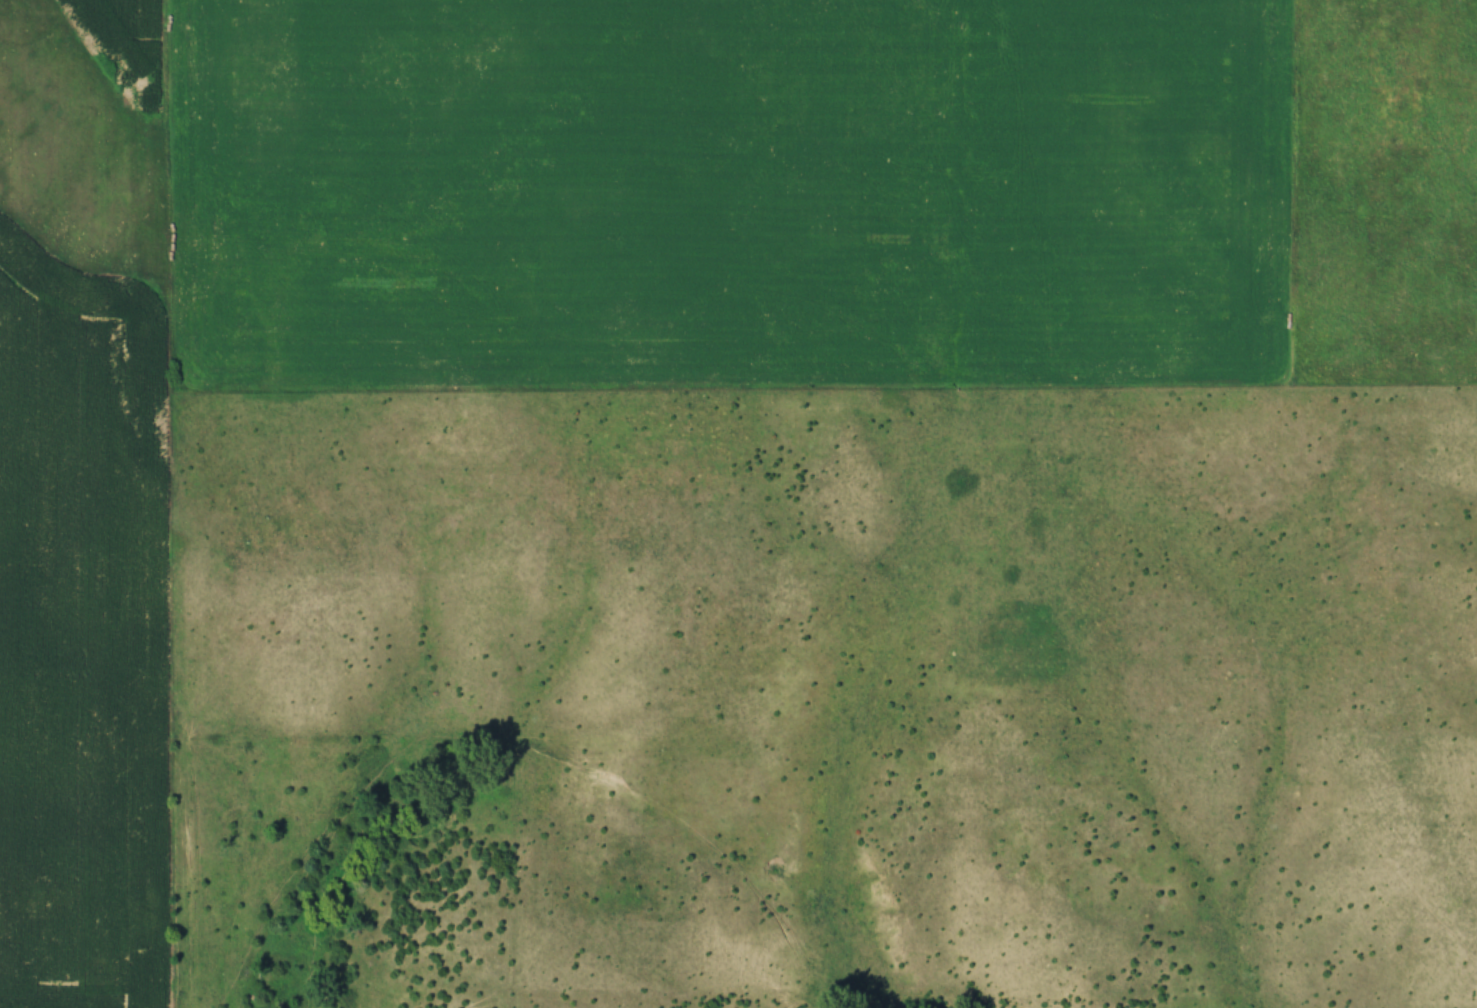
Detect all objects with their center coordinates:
crop: (83, 509)

